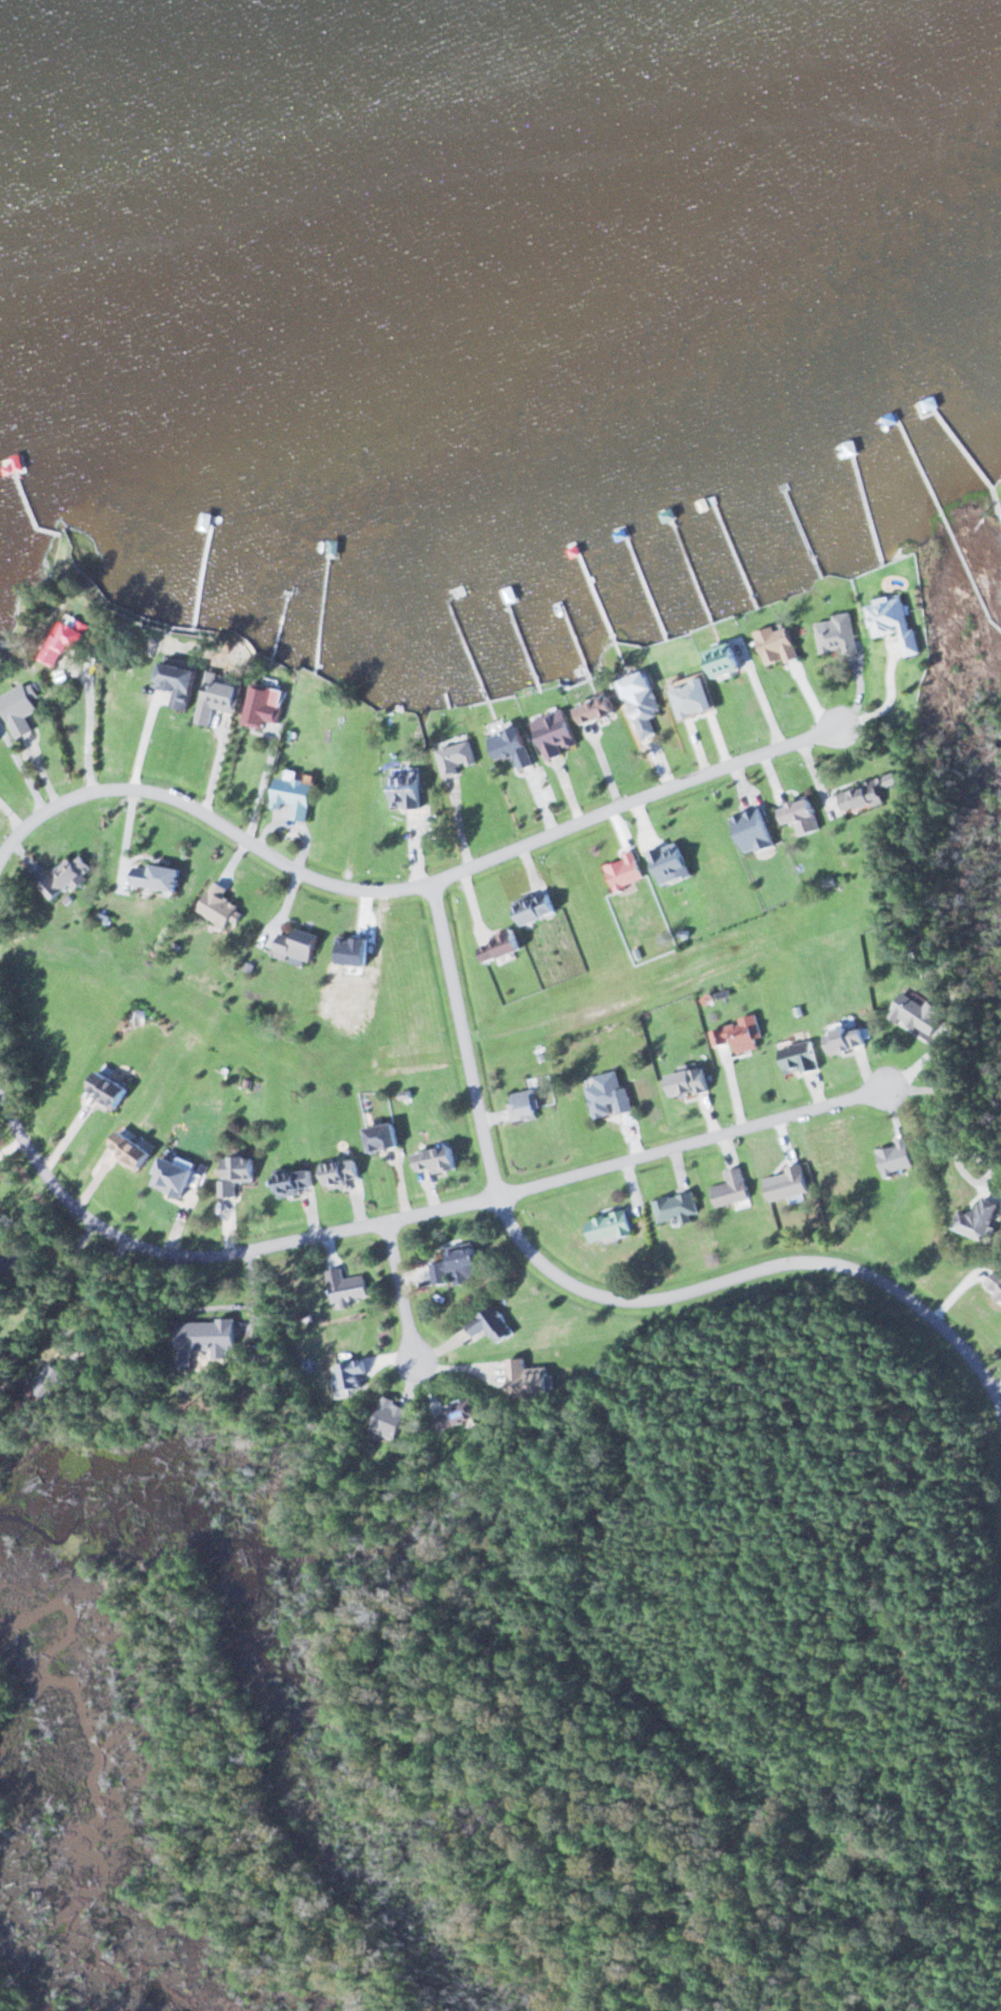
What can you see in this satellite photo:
river: (328, 81)
building: (837, 635)
building: (68, 641)
building: (781, 645)
building: (730, 660)
building: (184, 682)
building: (221, 697)
building: (696, 697)
building: (645, 705)
building: (265, 706)
building: (23, 709)
building: (600, 710)
building: (559, 733)
building: (515, 747)
building: (457, 756)
building: (405, 788)
building: (870, 794)
building: (299, 796)
building: (800, 812)
building: (671, 864)
building: (626, 873)
building: (160, 876)
building: (70, 877)
road: (407, 887)
building: (221, 907)
building: (539, 908)
building: (300, 946)
building: (505, 947)
building: (920, 1011)
building: (741, 1035)
building: (849, 1038)
building: (802, 1057)
building: (112, 1087)
building: (612, 1094)
building: (526, 1103)
building: (388, 1136)
road: (699, 1141)
building: (135, 1149)
building: (896, 1157)
building: (441, 1160)
building: (240, 1172)
building: (343, 1172)
building: (178, 1173)
building: (299, 1181)
building: (789, 1183)
building: (733, 1189)
road: (77, 1207)
building: (678, 1209)
building: (980, 1220)
road: (347, 1227)
building: (611, 1227)
building: (460, 1268)
building: (996, 1283)
road: (607, 1285)
building: (348, 1286)
road: (403, 1289)
building: (494, 1325)
building: (208, 1338)
building: (354, 1376)
building: (531, 1382)
building: (463, 1413)
building: (394, 1419)

